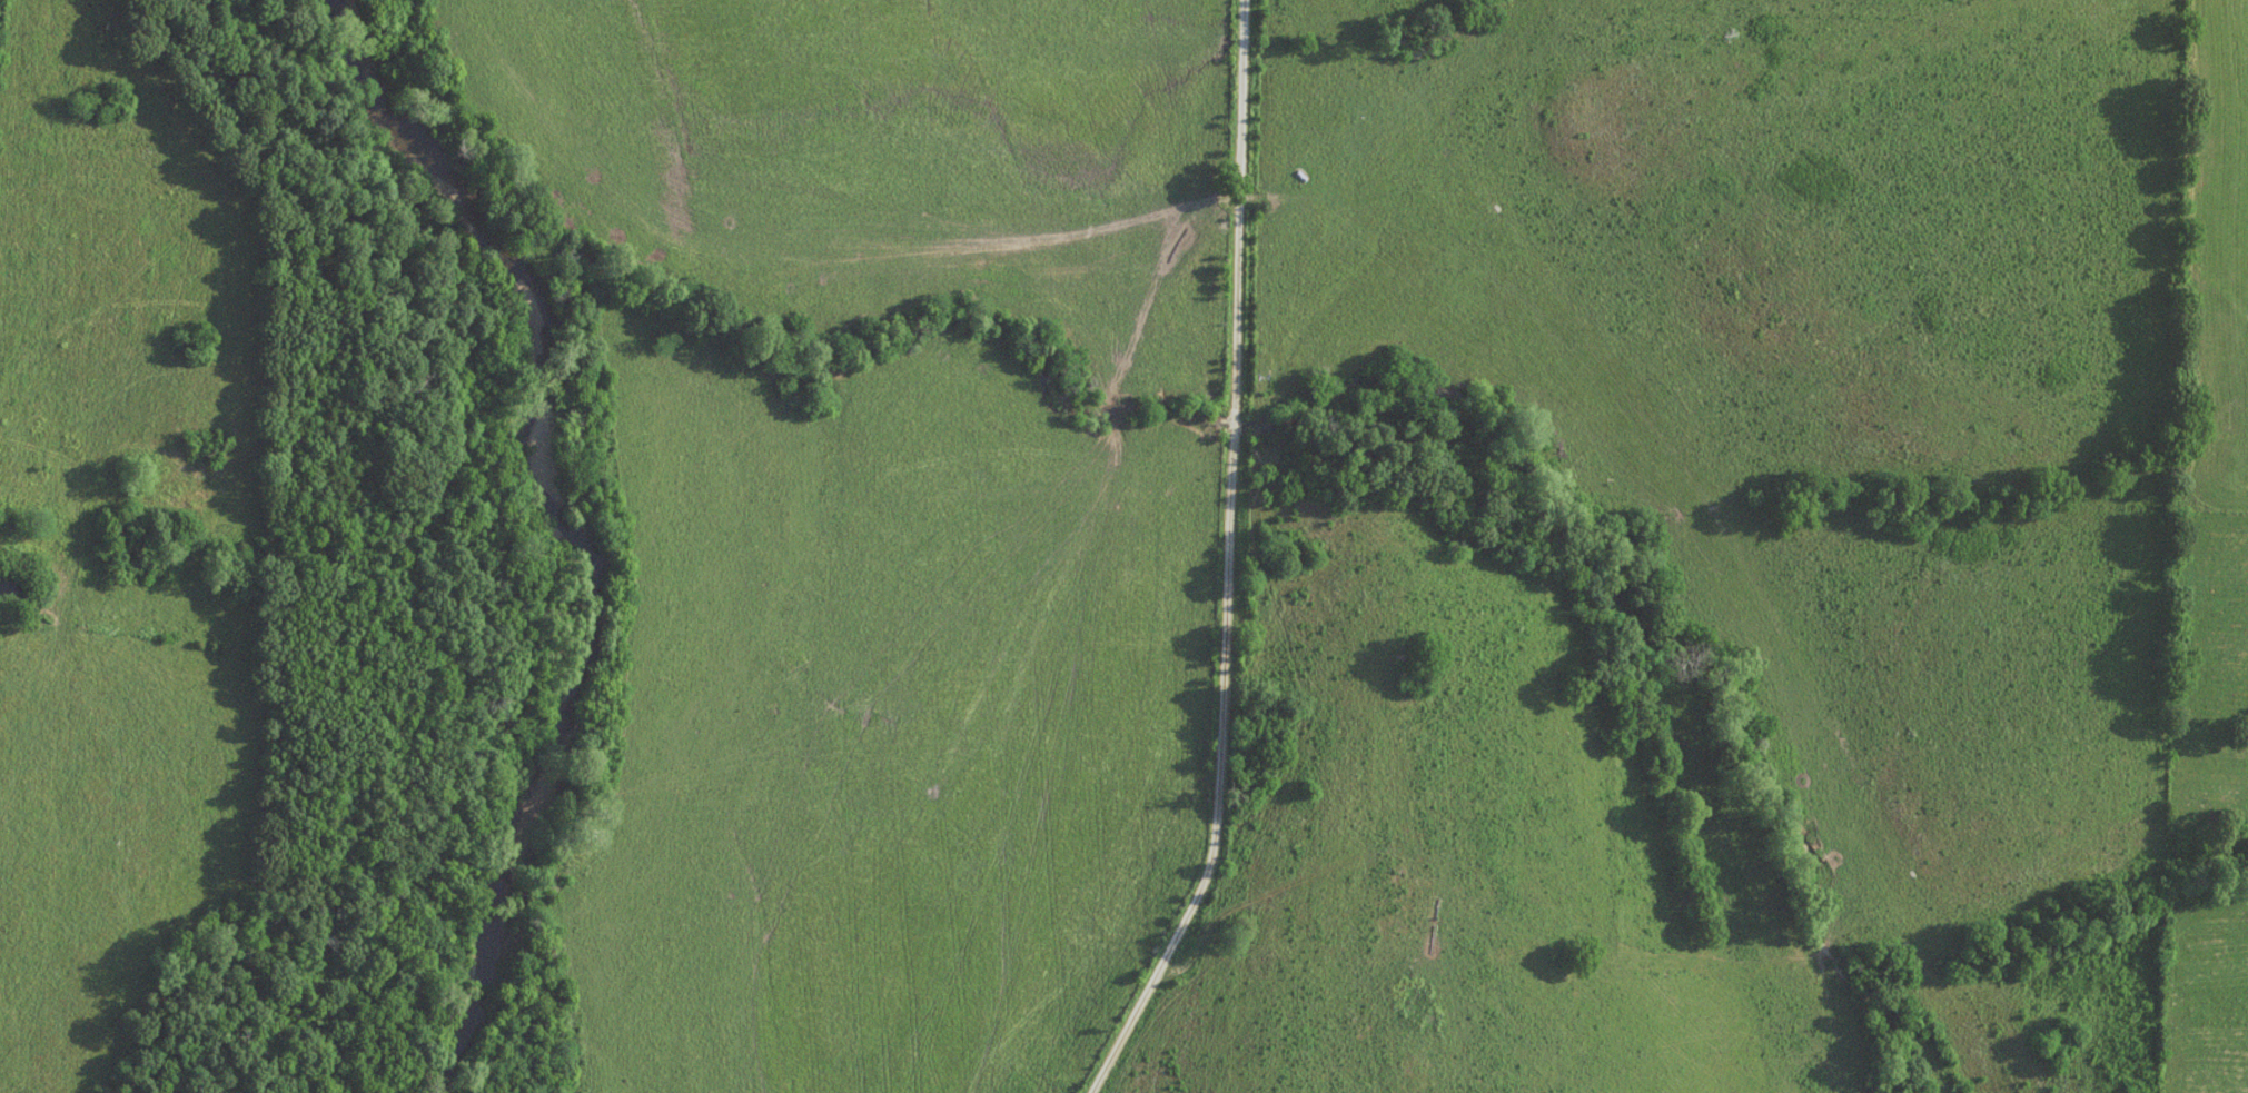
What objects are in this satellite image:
road: (1240, 201)
road: (1219, 763)

